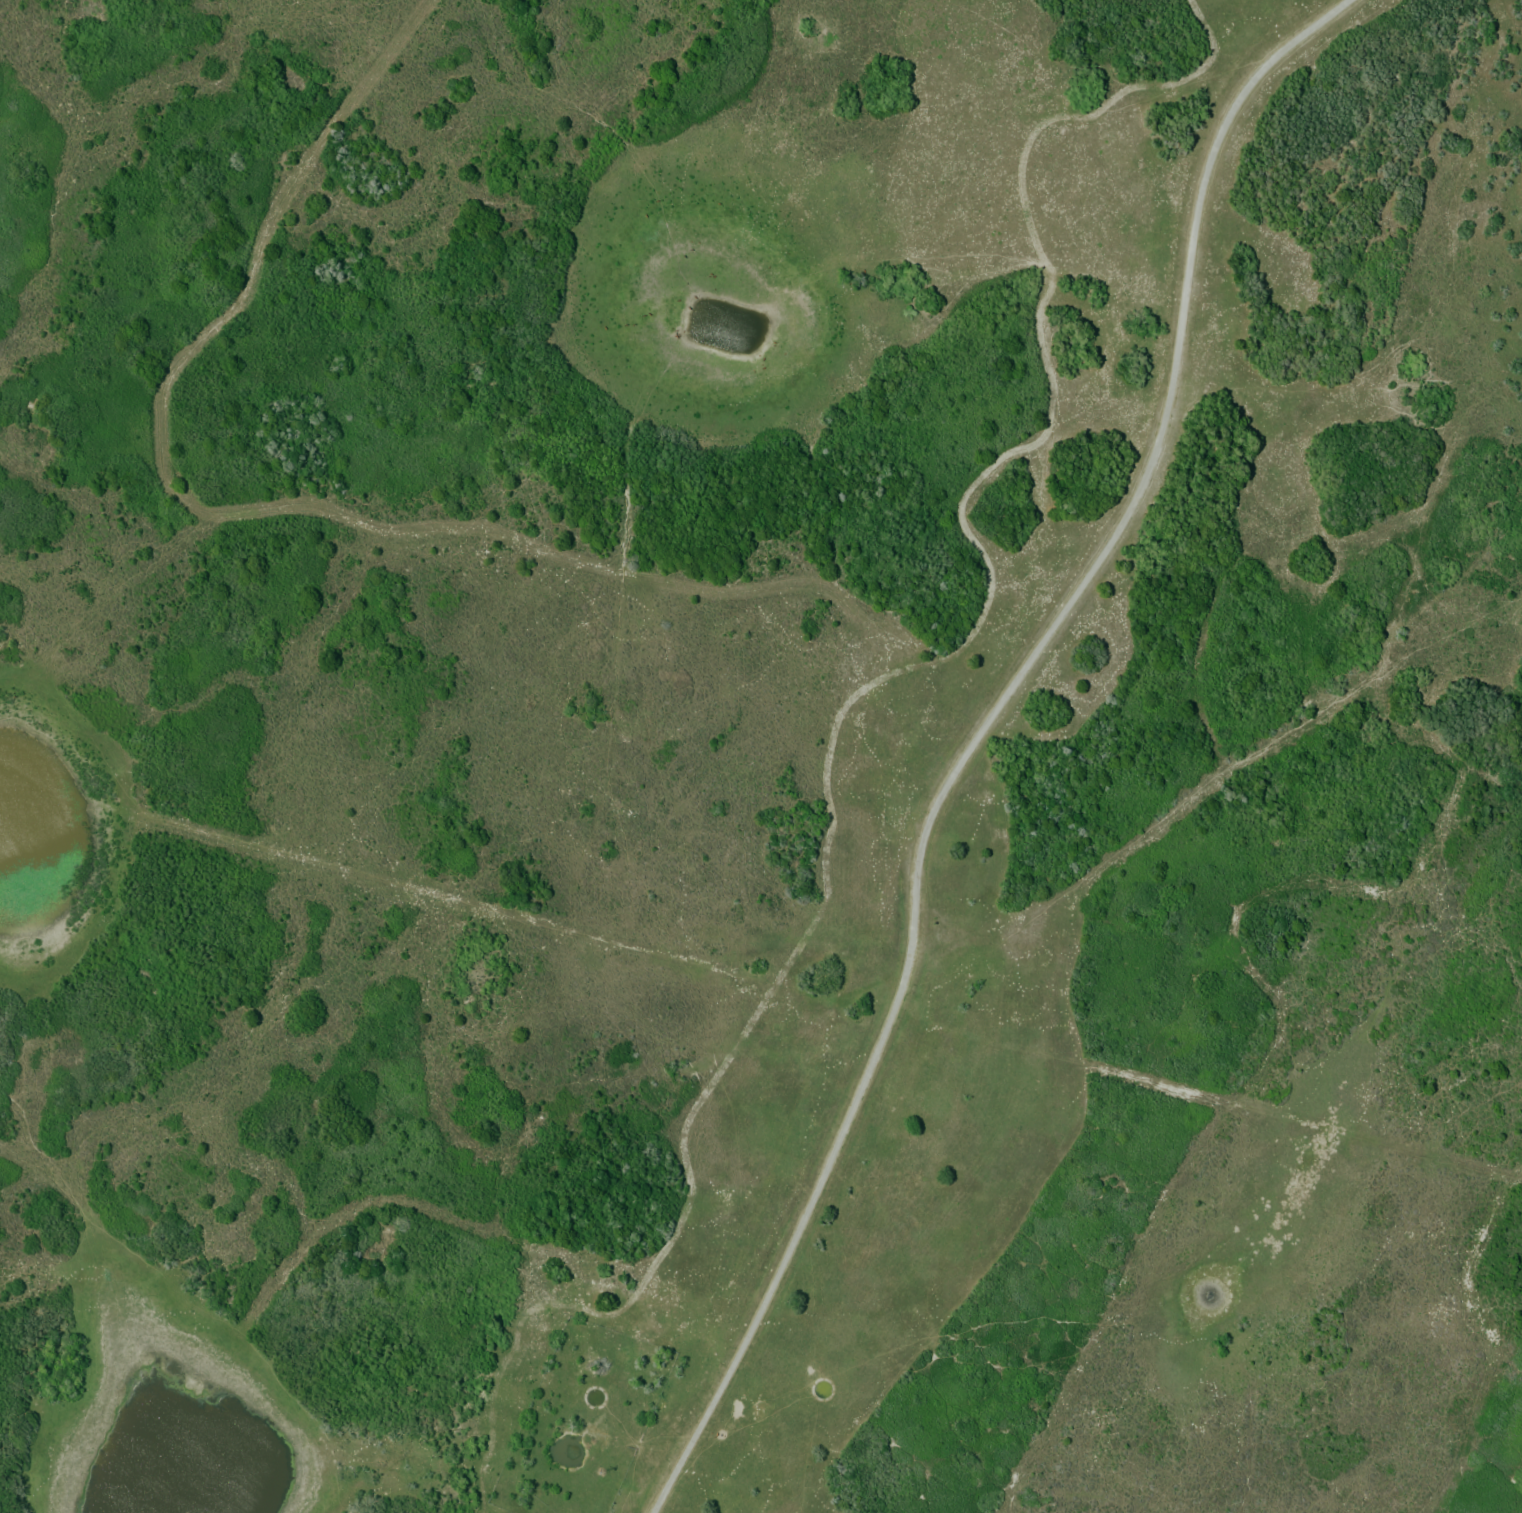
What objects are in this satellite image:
road: (986, 739)

